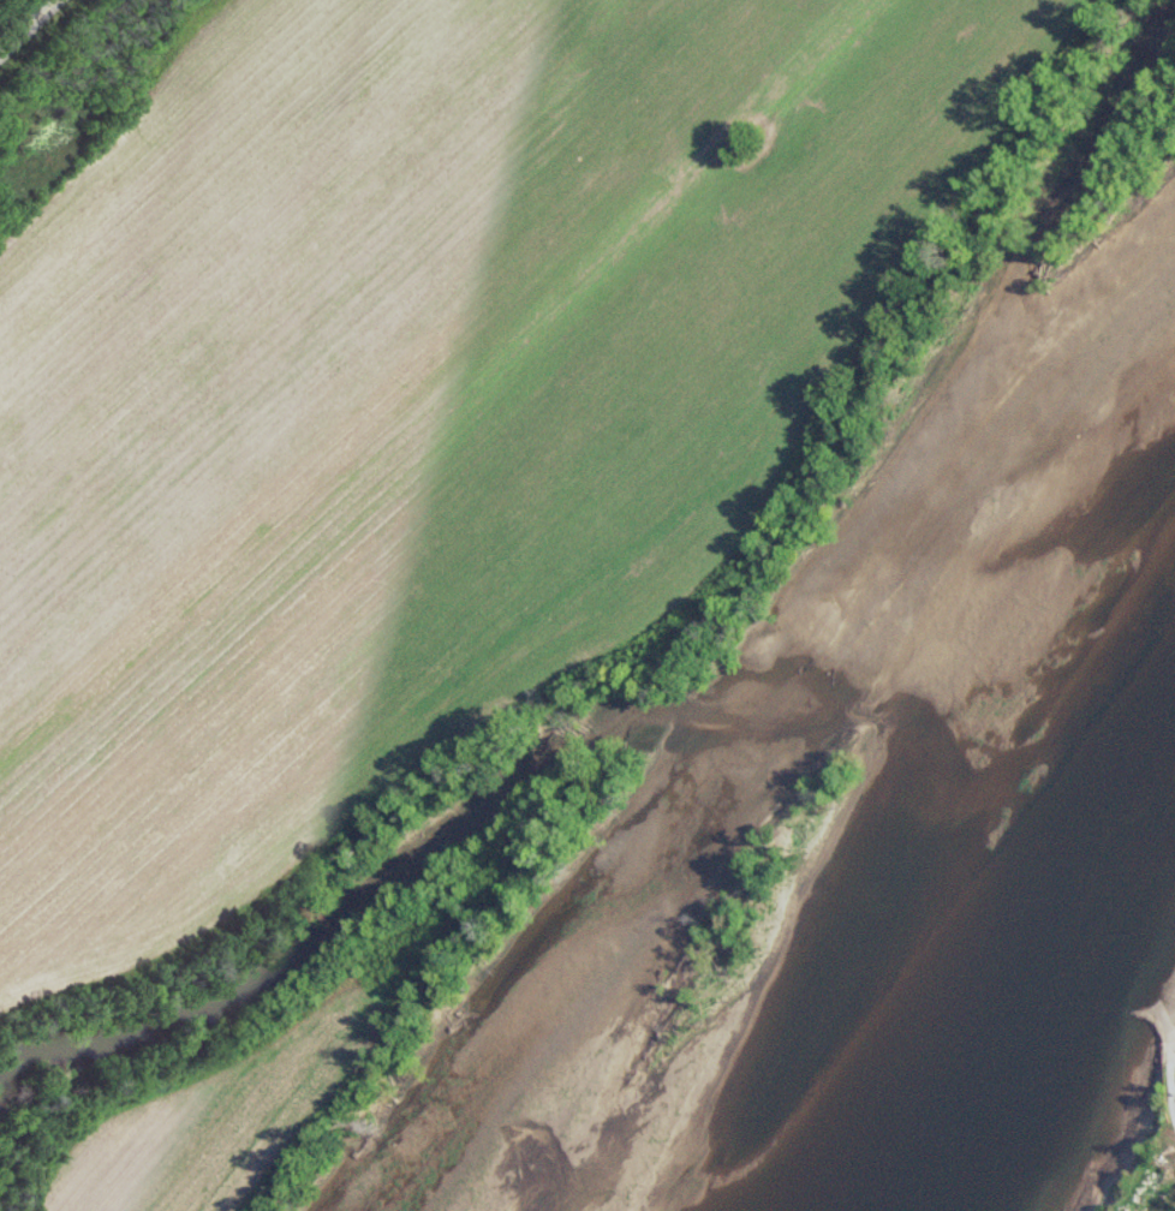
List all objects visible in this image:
road: (35, 32)
crop: (418, 400)
river: (1024, 992)

